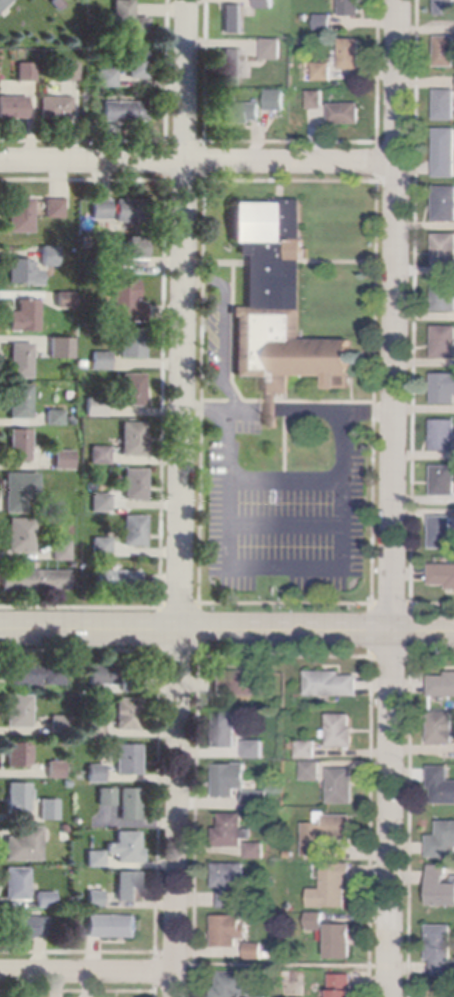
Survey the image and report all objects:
building: (2, 2)
building: (57, 3)
building: (266, 4)
building: (445, 7)
building: (352, 8)
building: (234, 18)
building: (305, 18)
building: (128, 21)
building: (325, 22)
building: (273, 49)
building: (445, 51)
building: (351, 54)
building: (138, 64)
building: (233, 67)
building: (25, 71)
building: (68, 71)
building: (324, 71)
building: (106, 77)
building: (316, 99)
building: (277, 100)
building: (445, 105)
building: (55, 106)
building: (13, 107)
building: (125, 110)
building: (242, 112)
building: (345, 113)
building: (445, 152)
road: (199, 162)
building: (444, 203)
building: (54, 208)
building: (101, 209)
building: (131, 210)
building: (20, 215)
building: (444, 249)
building: (132, 252)
building: (49, 255)
building: (23, 272)
building: (443, 295)
building: (65, 299)
building: (127, 300)
building: (279, 306)
road: (397, 315)
building: (25, 316)
road: (224, 329)
building: (132, 342)
building: (444, 342)
building: (60, 346)
building: (21, 360)
building: (102, 361)
building: (82, 363)
building: (443, 388)
building: (133, 390)
building: (20, 401)
building: (95, 406)
road: (289, 410)
building: (55, 417)
building: (71, 419)
building: (443, 435)
building: (134, 439)
building: (20, 445)
road: (287, 445)
building: (100, 454)
building: (63, 459)
road: (286, 480)
building: (443, 480)
building: (135, 484)
building: (20, 490)
road: (181, 498)
building: (101, 502)
road: (286, 523)
building: (134, 530)
building: (442, 531)
building: (21, 534)
building: (102, 547)
building: (61, 550)
road: (286, 566)
building: (442, 575)
building: (34, 580)
building: (118, 581)
road: (227, 629)
building: (37, 673)
building: (104, 673)
building: (240, 683)
building: (332, 684)
building: (131, 685)
building: (442, 685)
building: (19, 711)
building: (129, 714)
building: (60, 724)
building: (96, 728)
building: (442, 728)
building: (227, 730)
building: (340, 731)
building: (293, 745)
building: (255, 749)
building: (307, 750)
building: (71, 753)
building: (17, 755)
building: (128, 759)
building: (55, 770)
building: (312, 771)
building: (95, 773)
building: (231, 779)
building: (66, 782)
building: (441, 785)
building: (341, 786)
building: (18, 796)
building: (106, 796)
building: (258, 799)
building: (130, 803)
building: (48, 809)
road: (392, 814)
road: (408, 814)
building: (75, 819)
building: (232, 831)
building: (325, 833)
building: (442, 841)
building: (24, 844)
building: (125, 846)
building: (257, 851)
building: (95, 858)
building: (230, 882)
building: (16, 883)
building: (128, 886)
building: (332, 886)
building: (440, 886)
building: (95, 898)
building: (45, 899)
building: (316, 920)
building: (25, 925)
building: (113, 926)
building: (226, 931)
building: (340, 941)
building: (440, 949)
building: (255, 950)
road: (88, 973)
building: (234, 985)
building: (342, 986)

